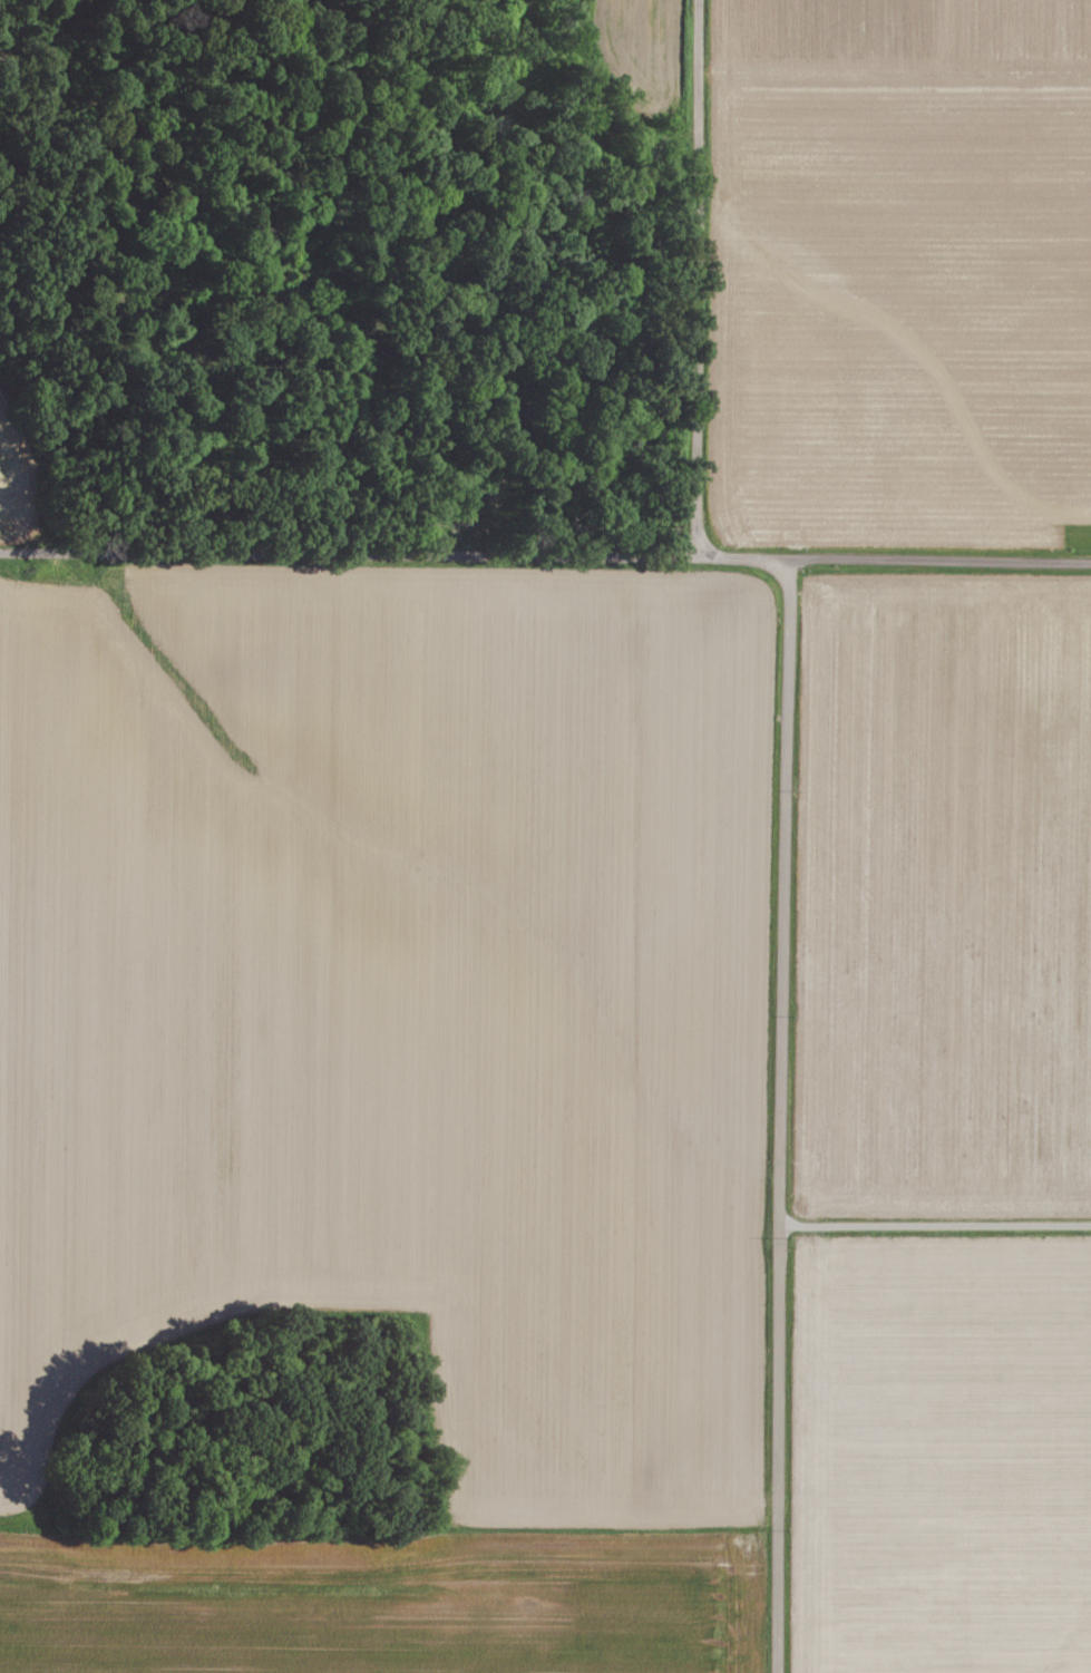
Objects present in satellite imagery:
road: (698, 274)
road: (545, 548)
road: (780, 1115)
road: (935, 1224)
road: (758, 1403)

